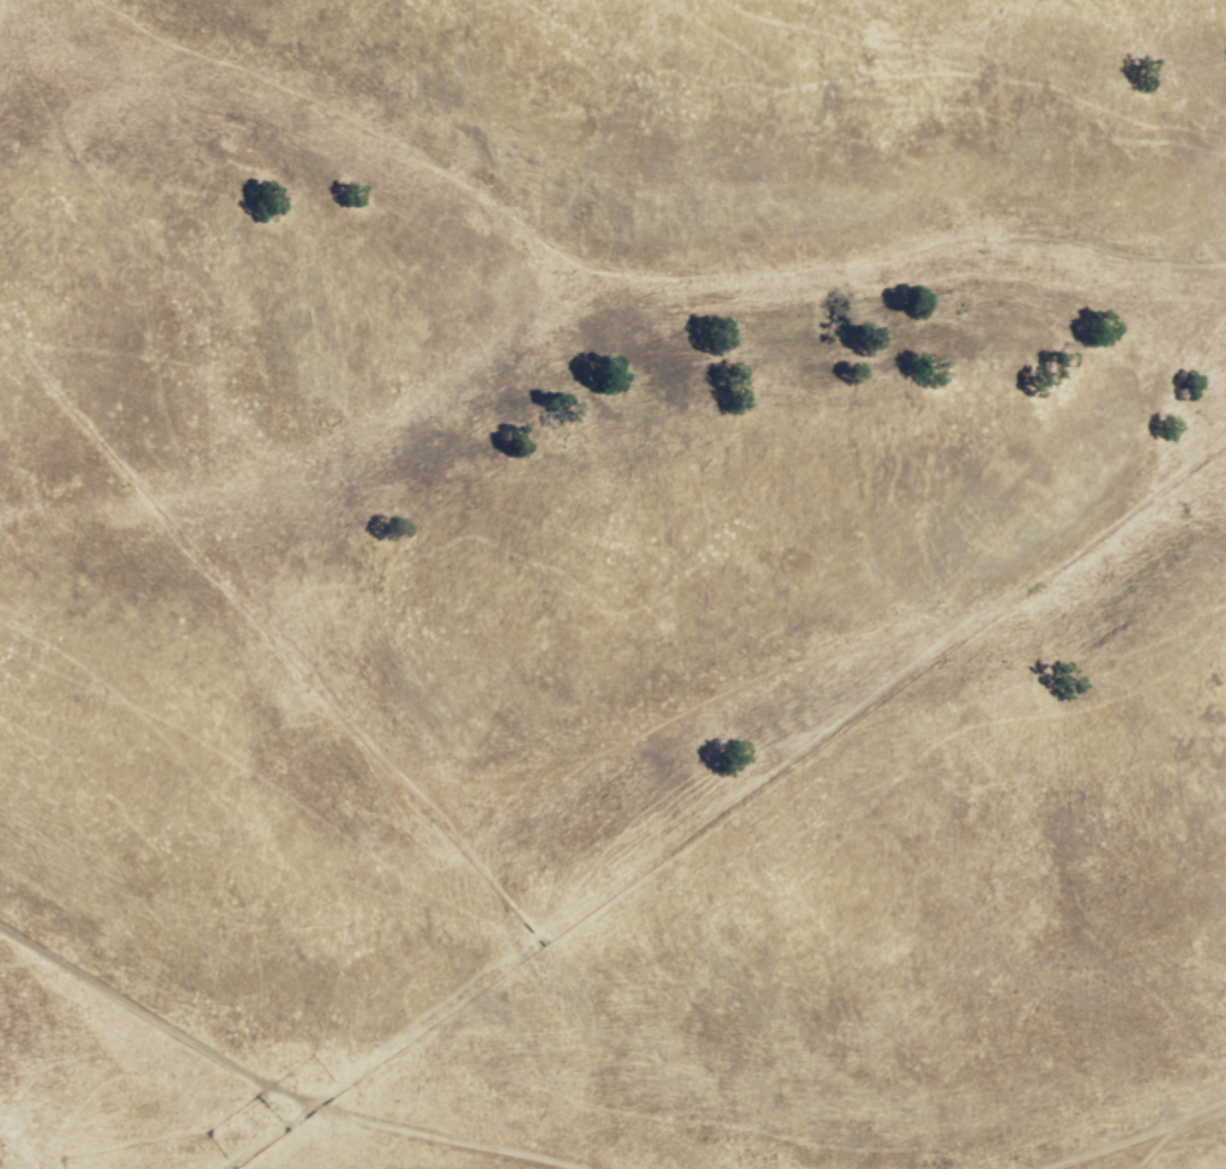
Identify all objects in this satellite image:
road: (250, 1089)
road: (1143, 1140)

